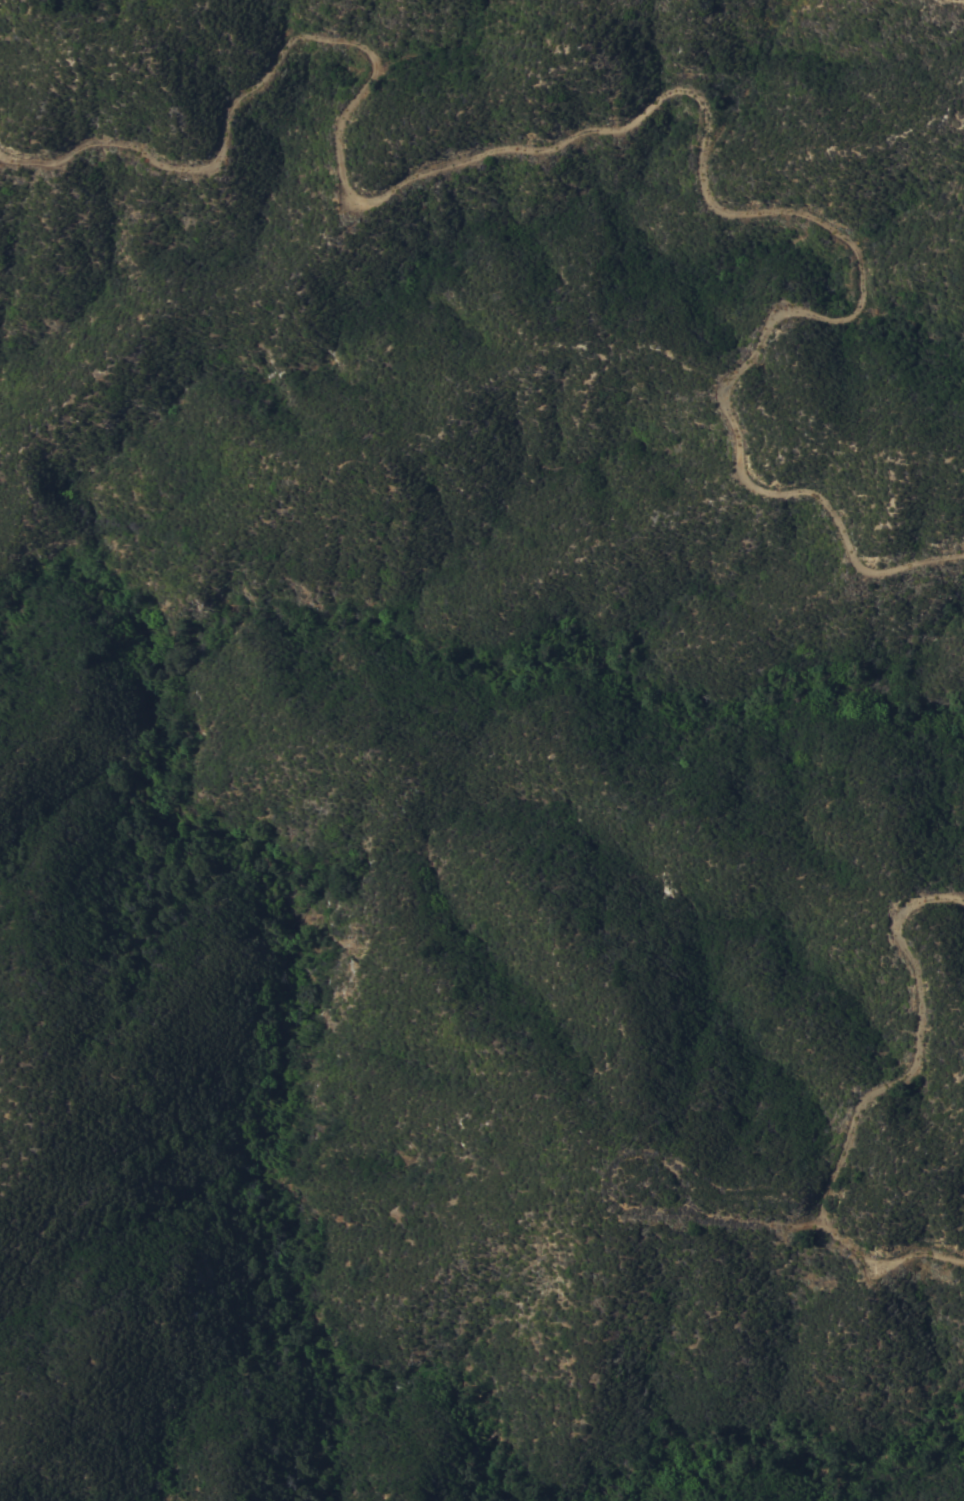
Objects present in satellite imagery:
road: (956, 1)
road: (640, 110)
road: (864, 1099)

